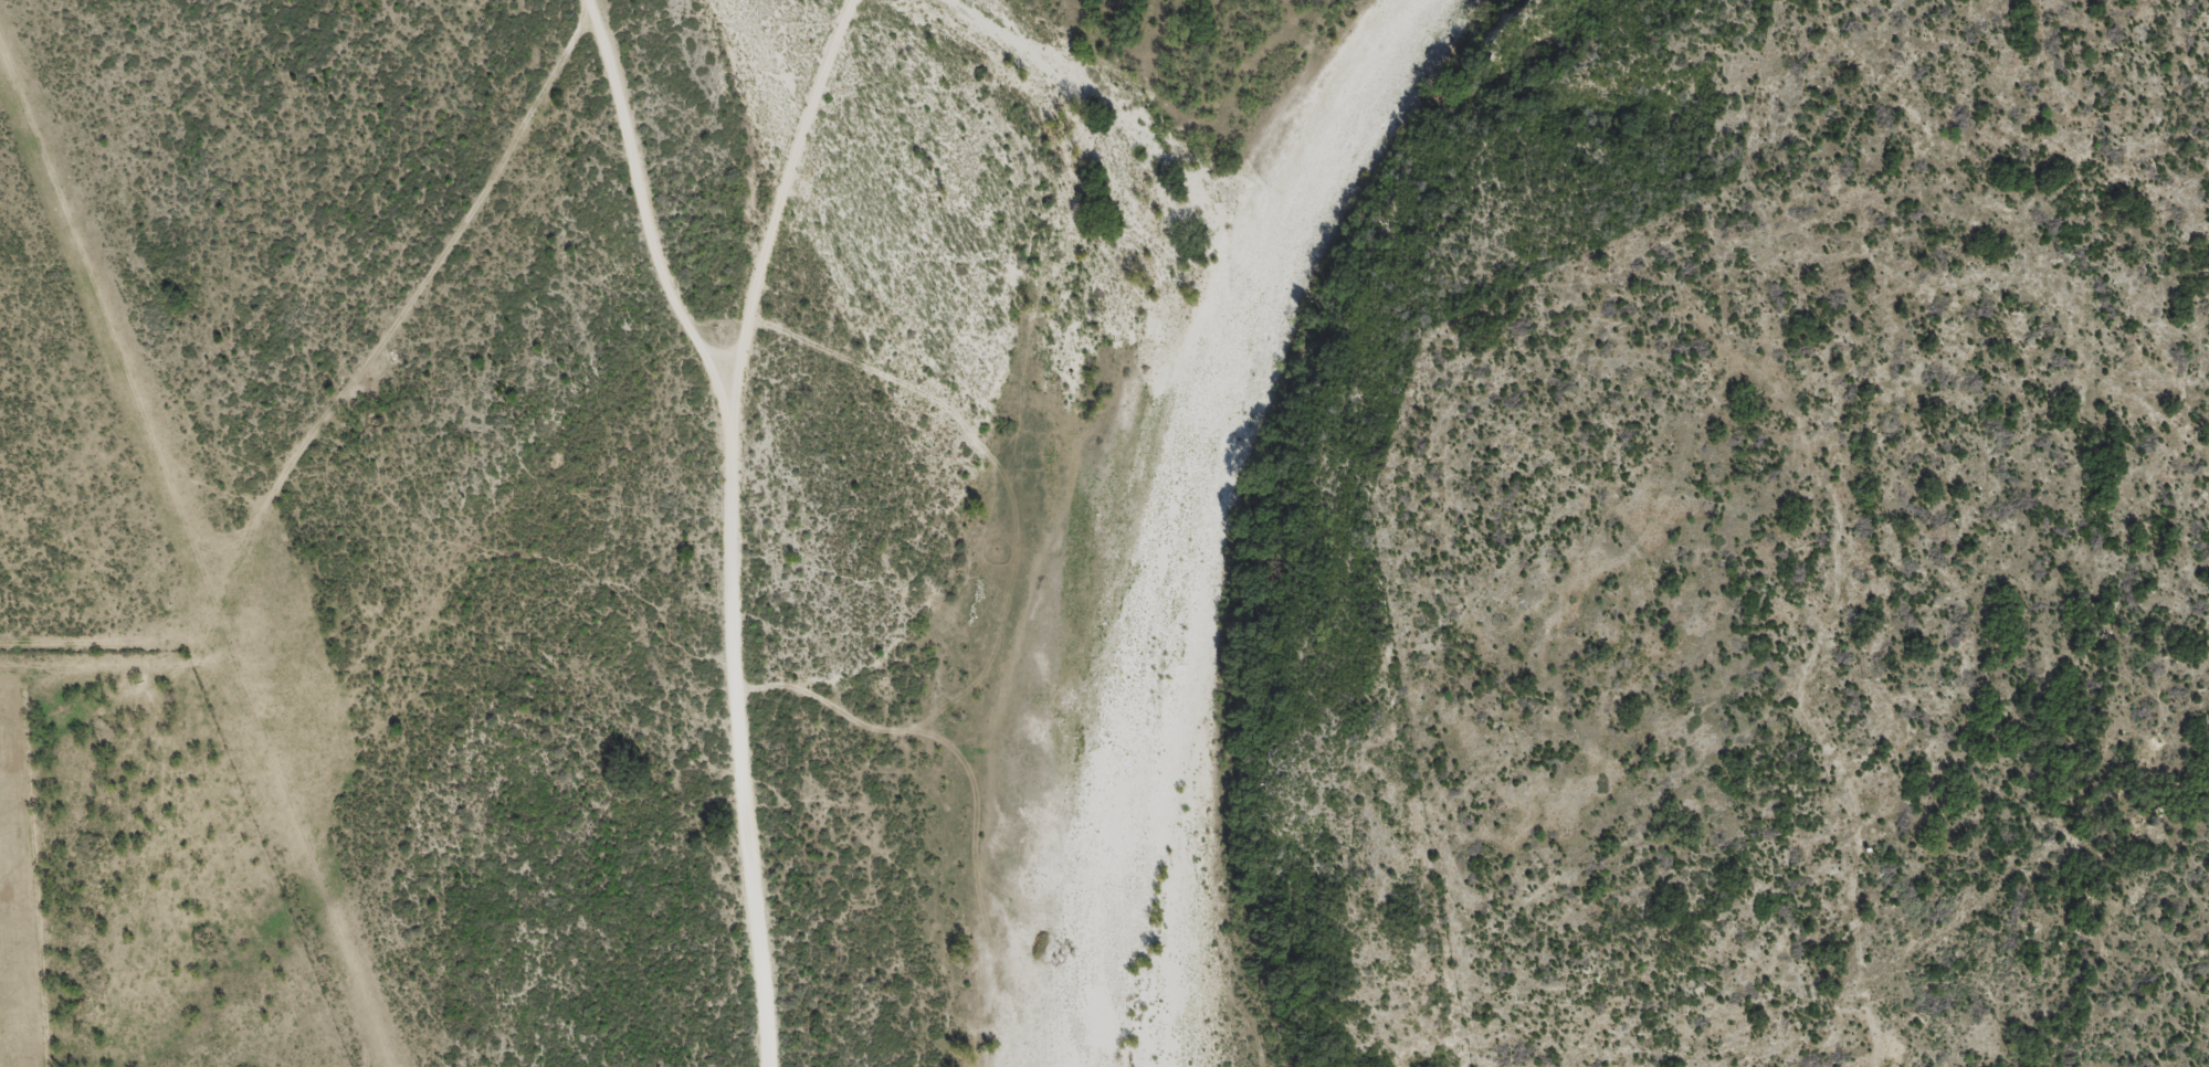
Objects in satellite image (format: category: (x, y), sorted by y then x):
road: (645, 202)
road: (734, 525)
airport runway: (188, 569)
airport apron: (282, 667)

